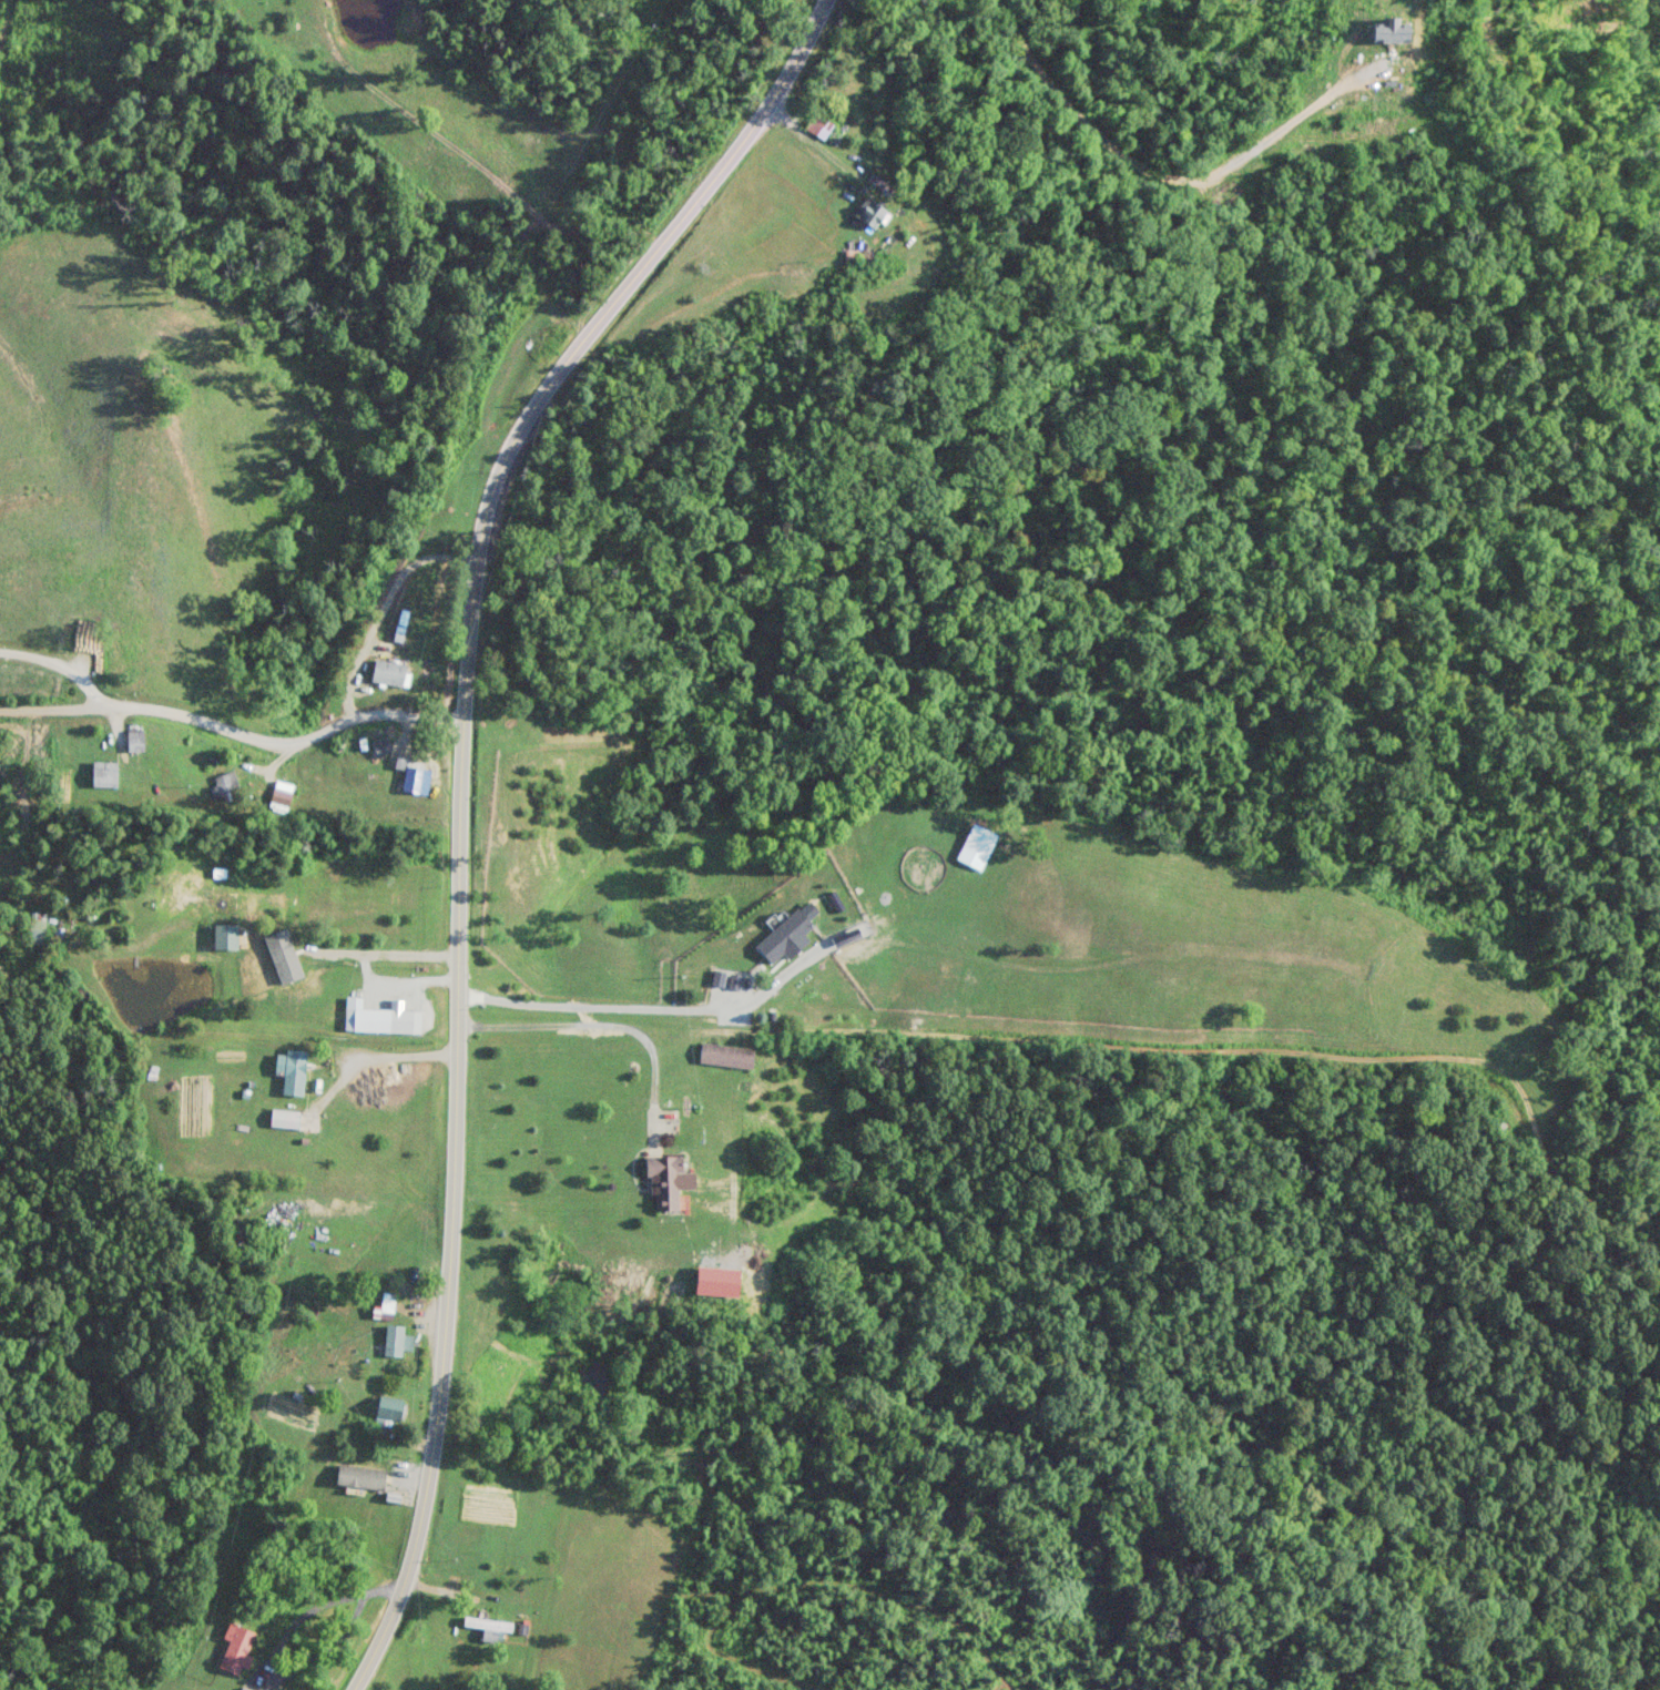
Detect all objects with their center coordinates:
building: (819, 144)
road: (1157, 172)
building: (872, 227)
building: (851, 274)
building: (518, 310)
road: (381, 611)
building: (389, 672)
road: (233, 730)
building: (134, 736)
building: (380, 746)
building: (103, 773)
building: (414, 774)
building: (224, 784)
building: (278, 795)
road: (458, 800)
building: (978, 845)
building: (225, 919)
building: (35, 928)
building: (785, 940)
road: (346, 953)
road: (396, 983)
road: (643, 1008)
building: (371, 1019)
building: (725, 1055)
road: (369, 1056)
building: (291, 1071)
building: (284, 1119)
building: (663, 1182)
building: (386, 1301)
building: (396, 1340)
building: (389, 1411)
building: (364, 1468)
building: (488, 1626)
building: (236, 1648)
building: (242, 1689)

